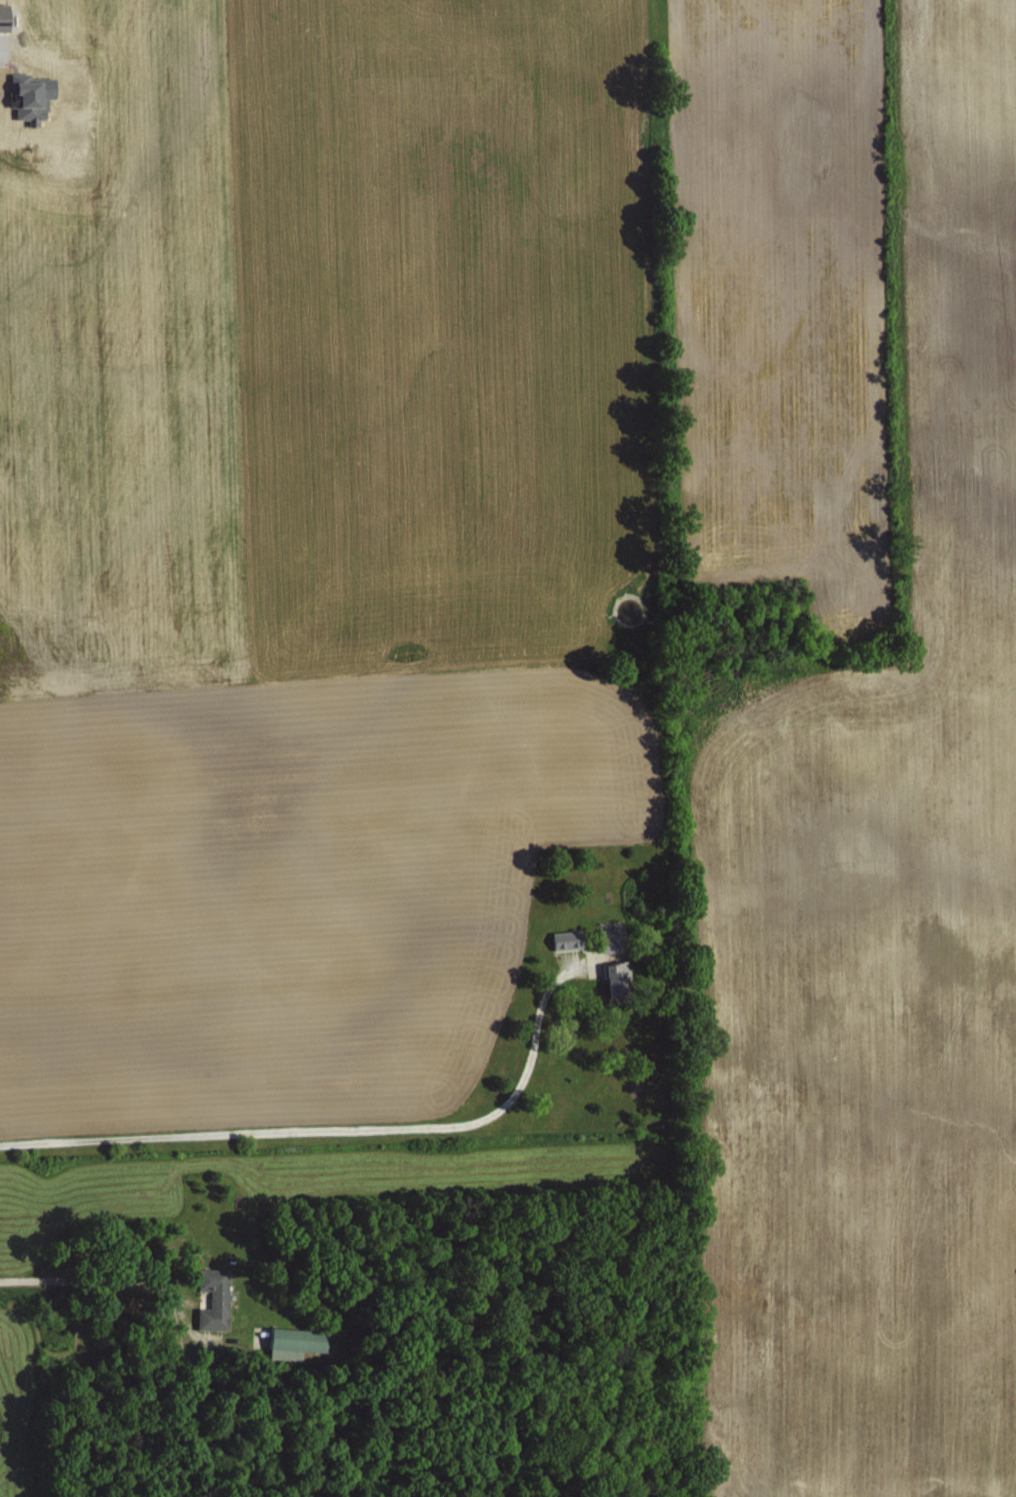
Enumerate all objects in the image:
building: (30, 95)
building: (566, 938)
building: (611, 938)
building: (617, 977)
road: (340, 1128)
road: (96, 1279)
building: (213, 1297)
building: (287, 1339)

